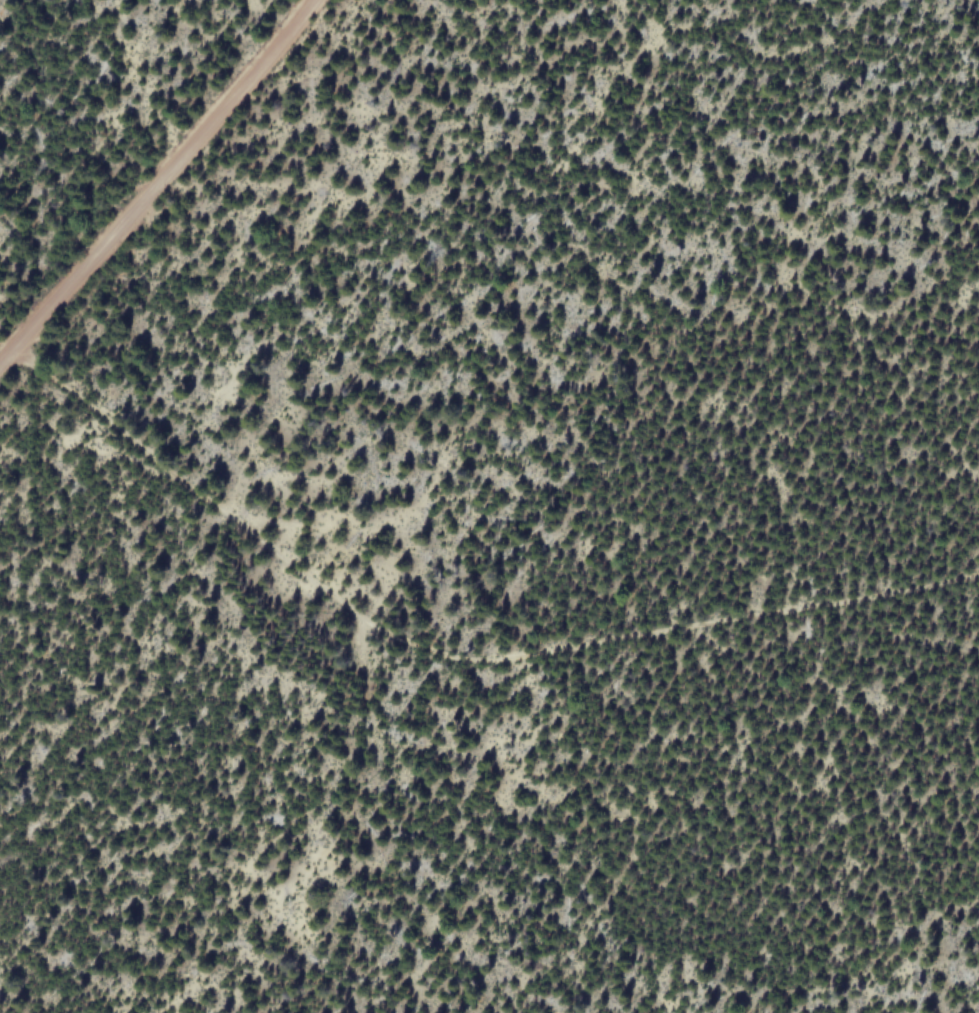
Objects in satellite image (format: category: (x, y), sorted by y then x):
road: (158, 182)
road: (448, 656)

